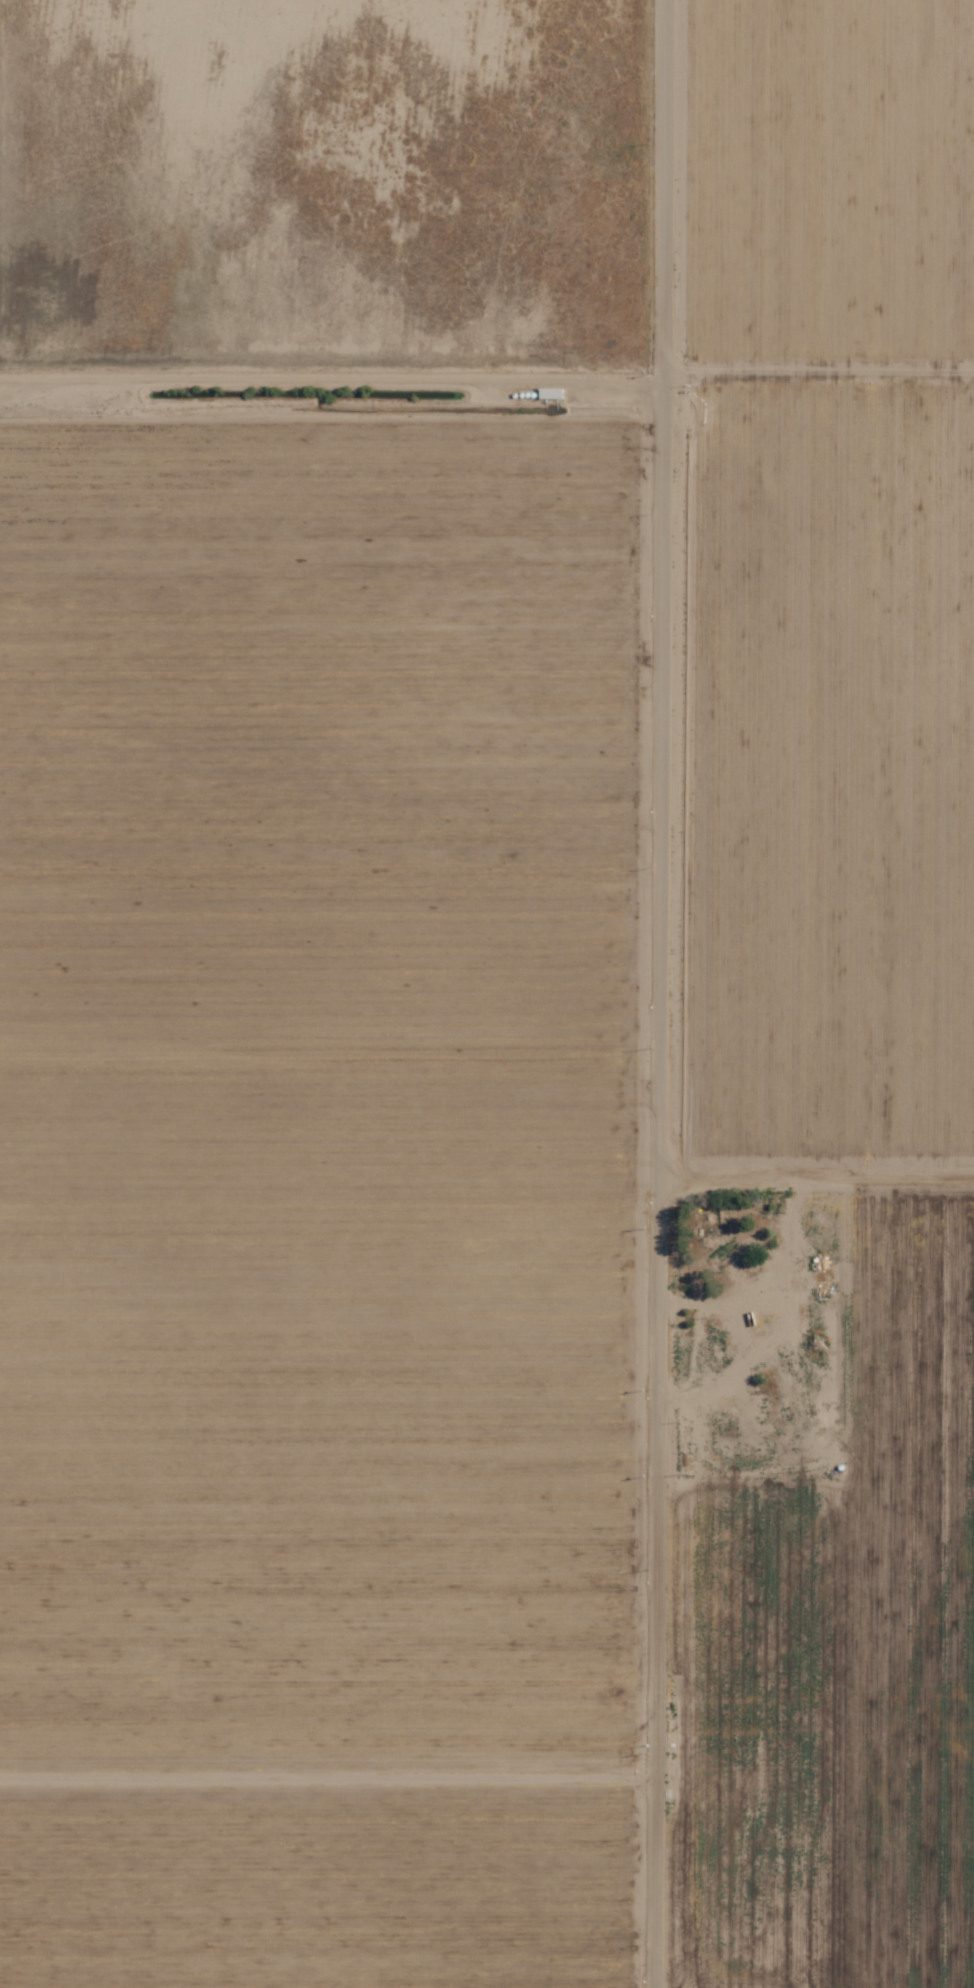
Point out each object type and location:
road: (649, 993)

